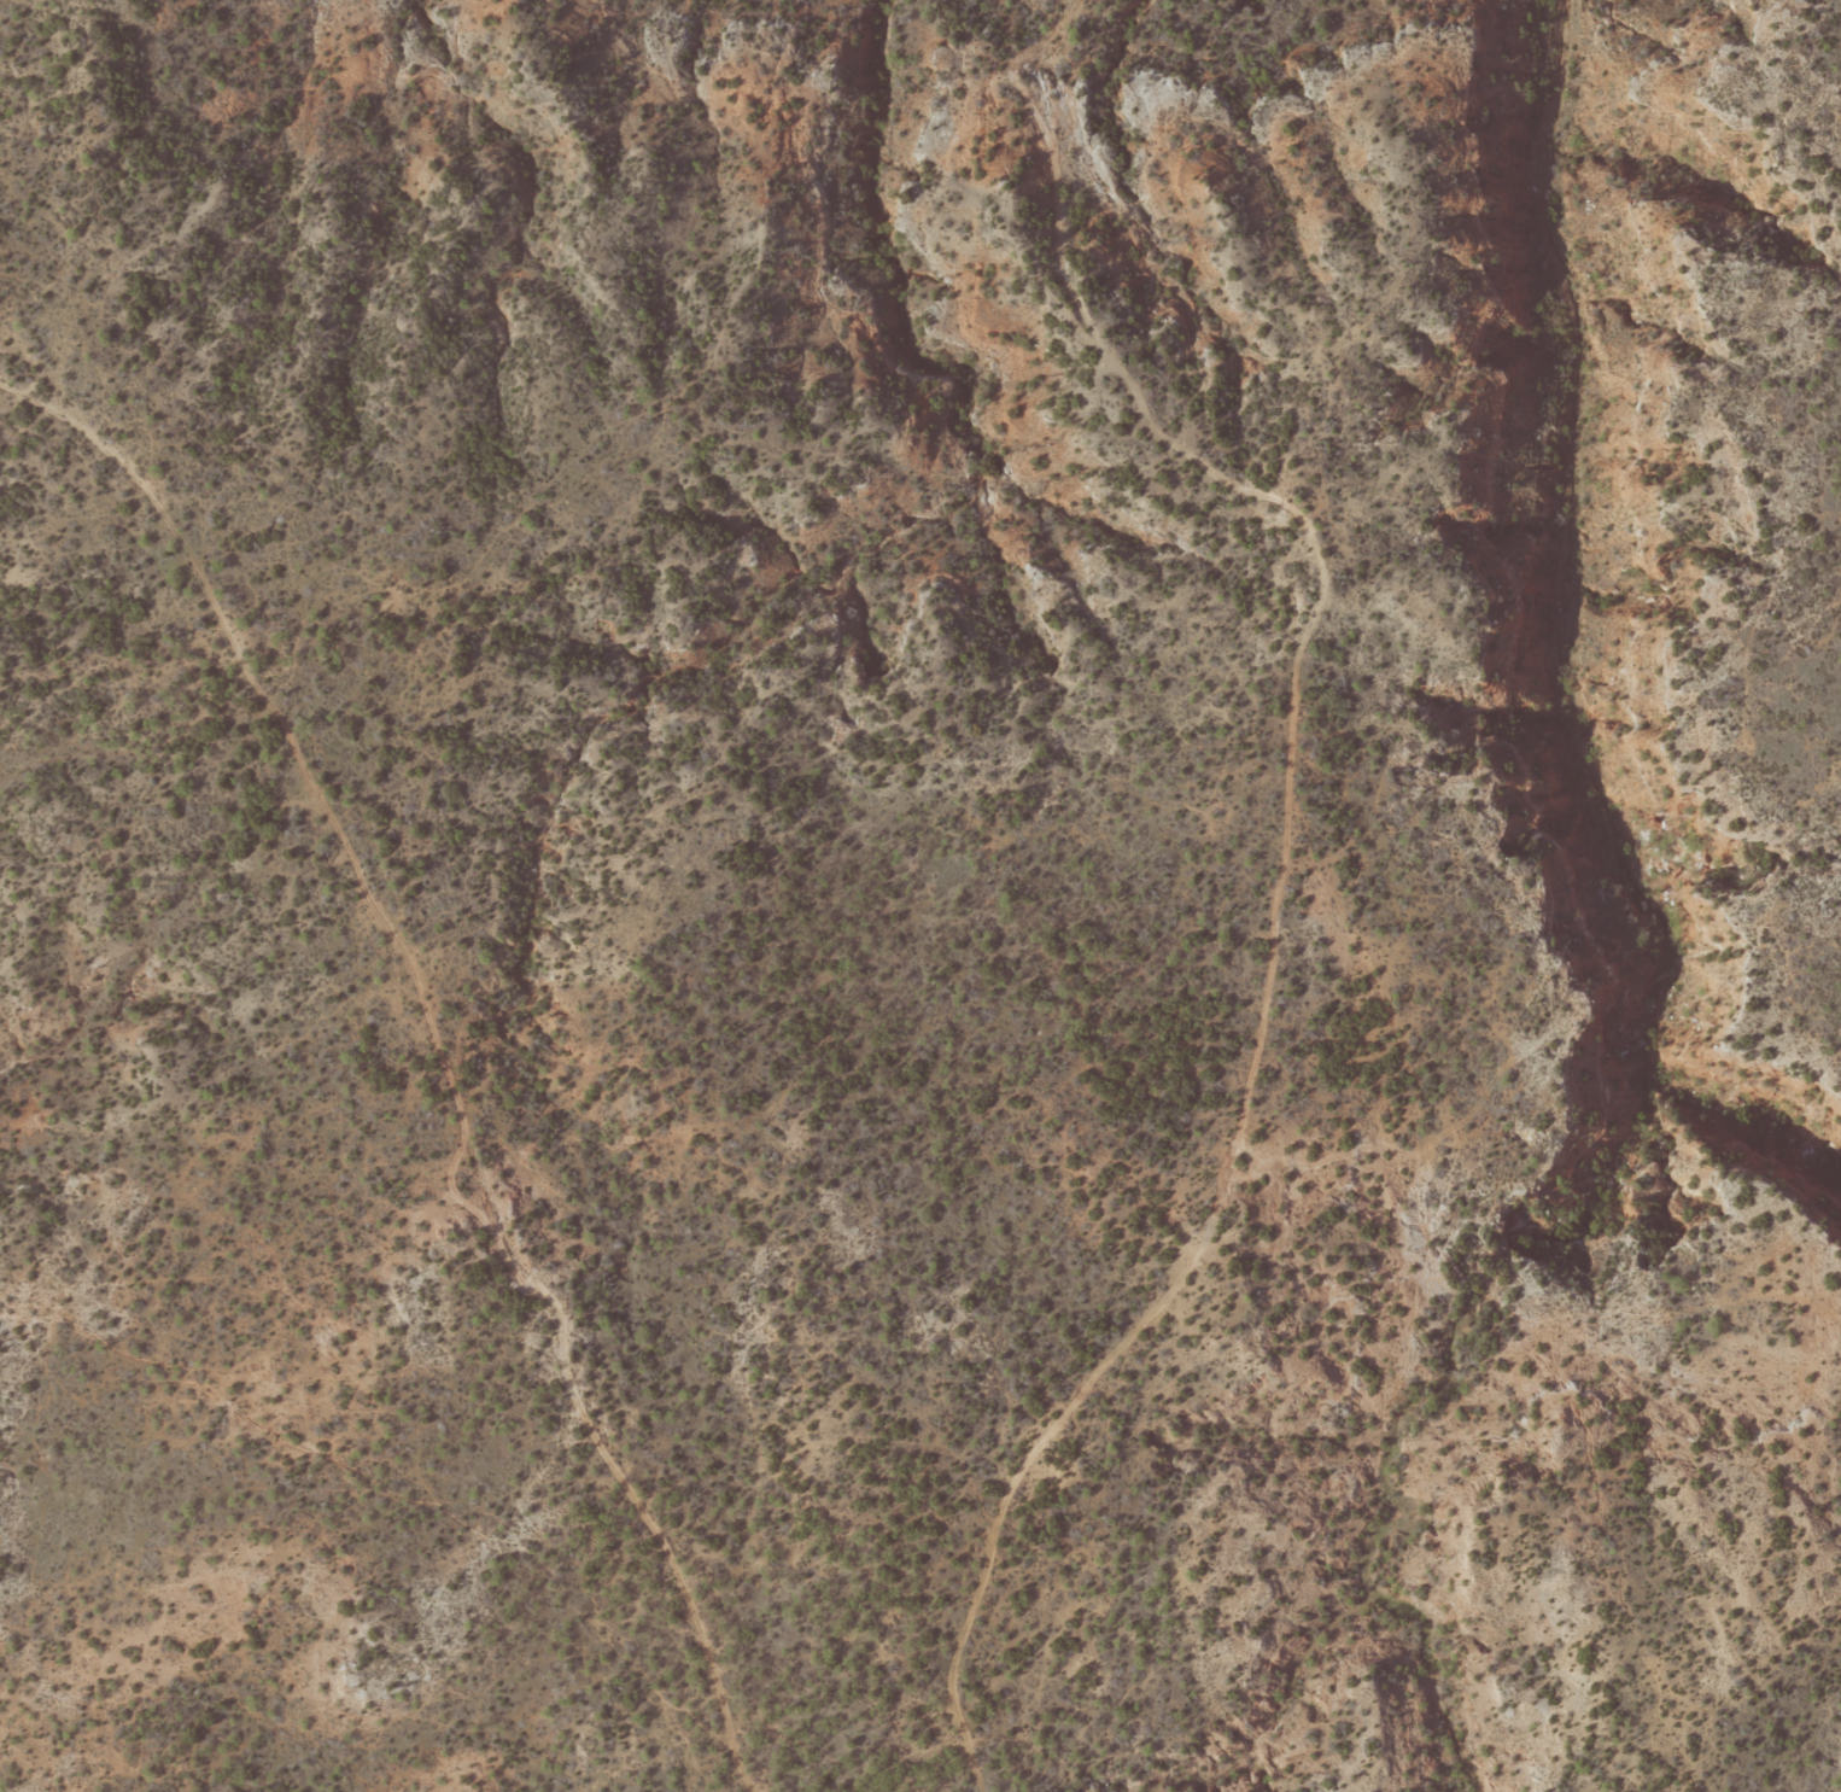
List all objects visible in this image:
road: (409, 1060)

